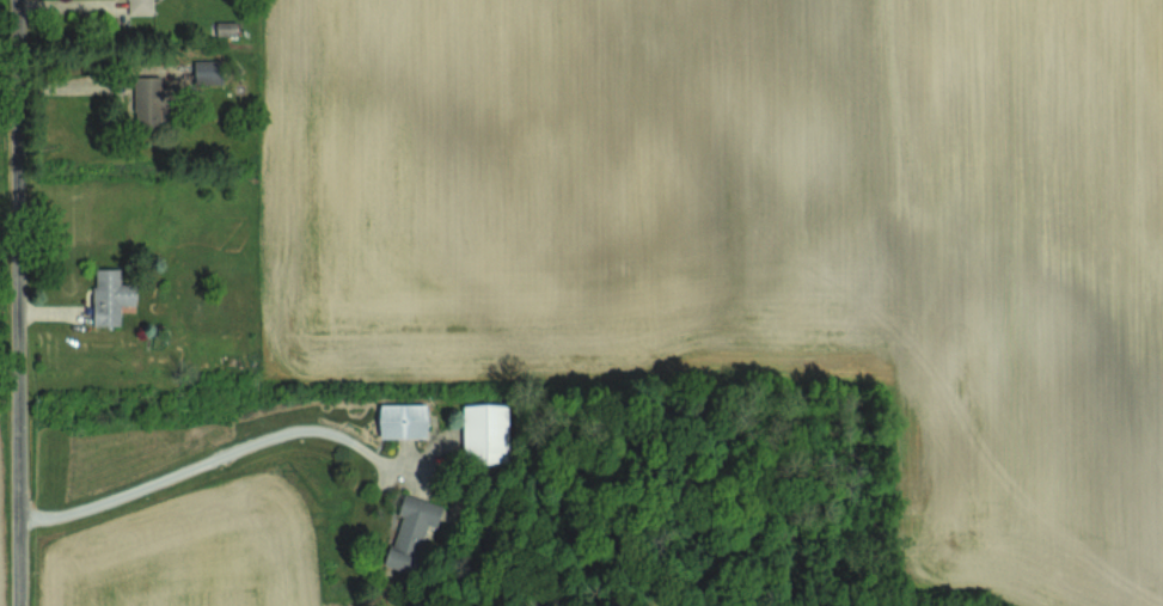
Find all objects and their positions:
building: (139, 6)
building: (226, 27)
building: (208, 71)
building: (151, 100)
building: (110, 295)
road: (19, 302)
building: (402, 420)
building: (485, 433)
road: (219, 453)
building: (411, 530)

